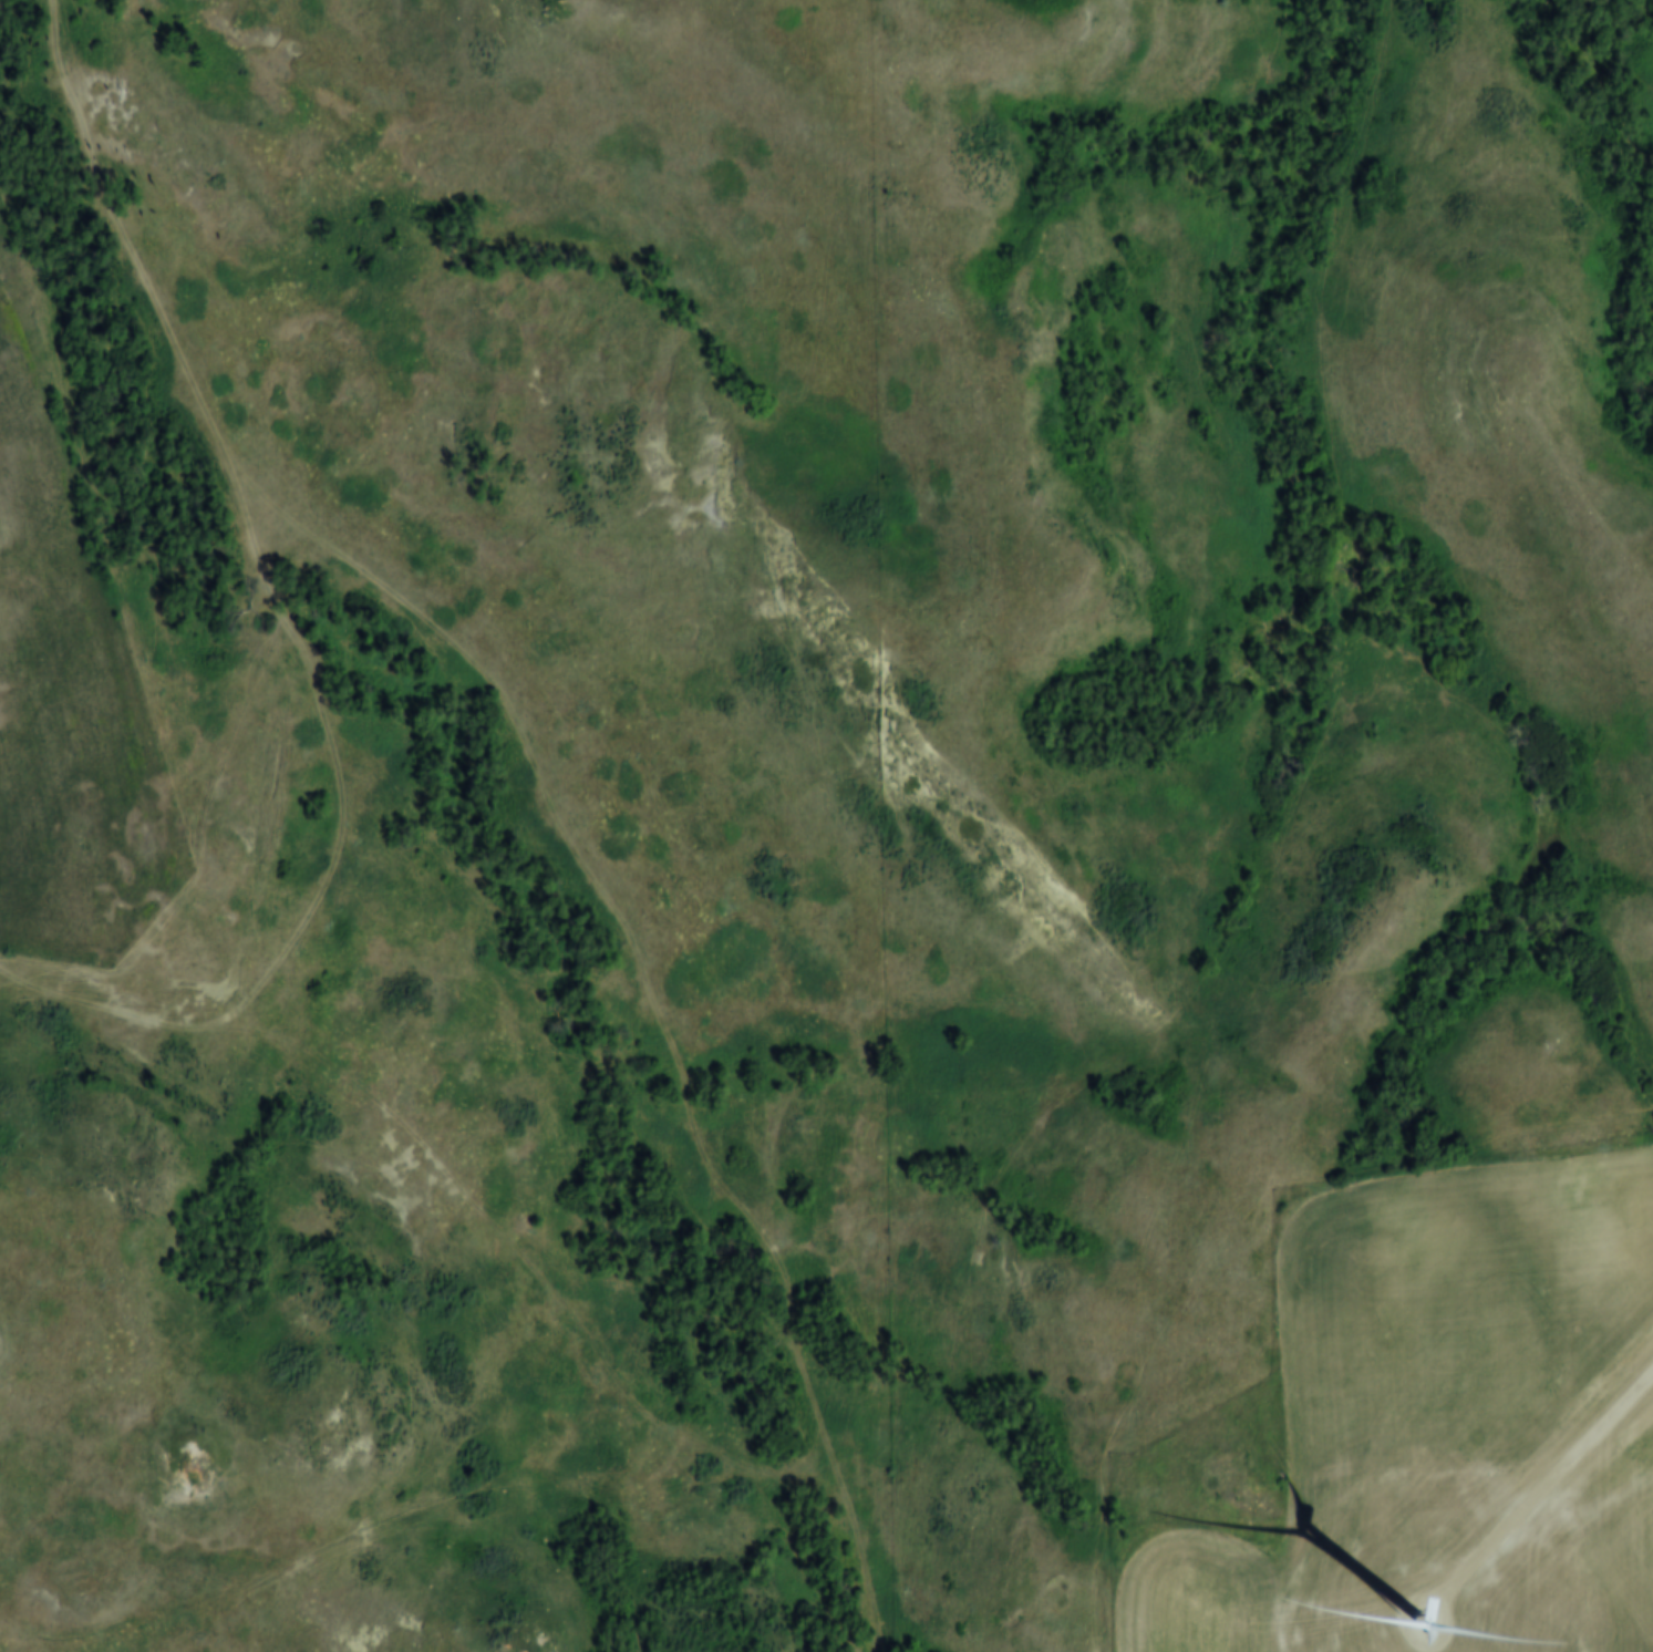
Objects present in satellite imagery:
road: (1574, 1531)
wind turbine: (1423, 1612)

